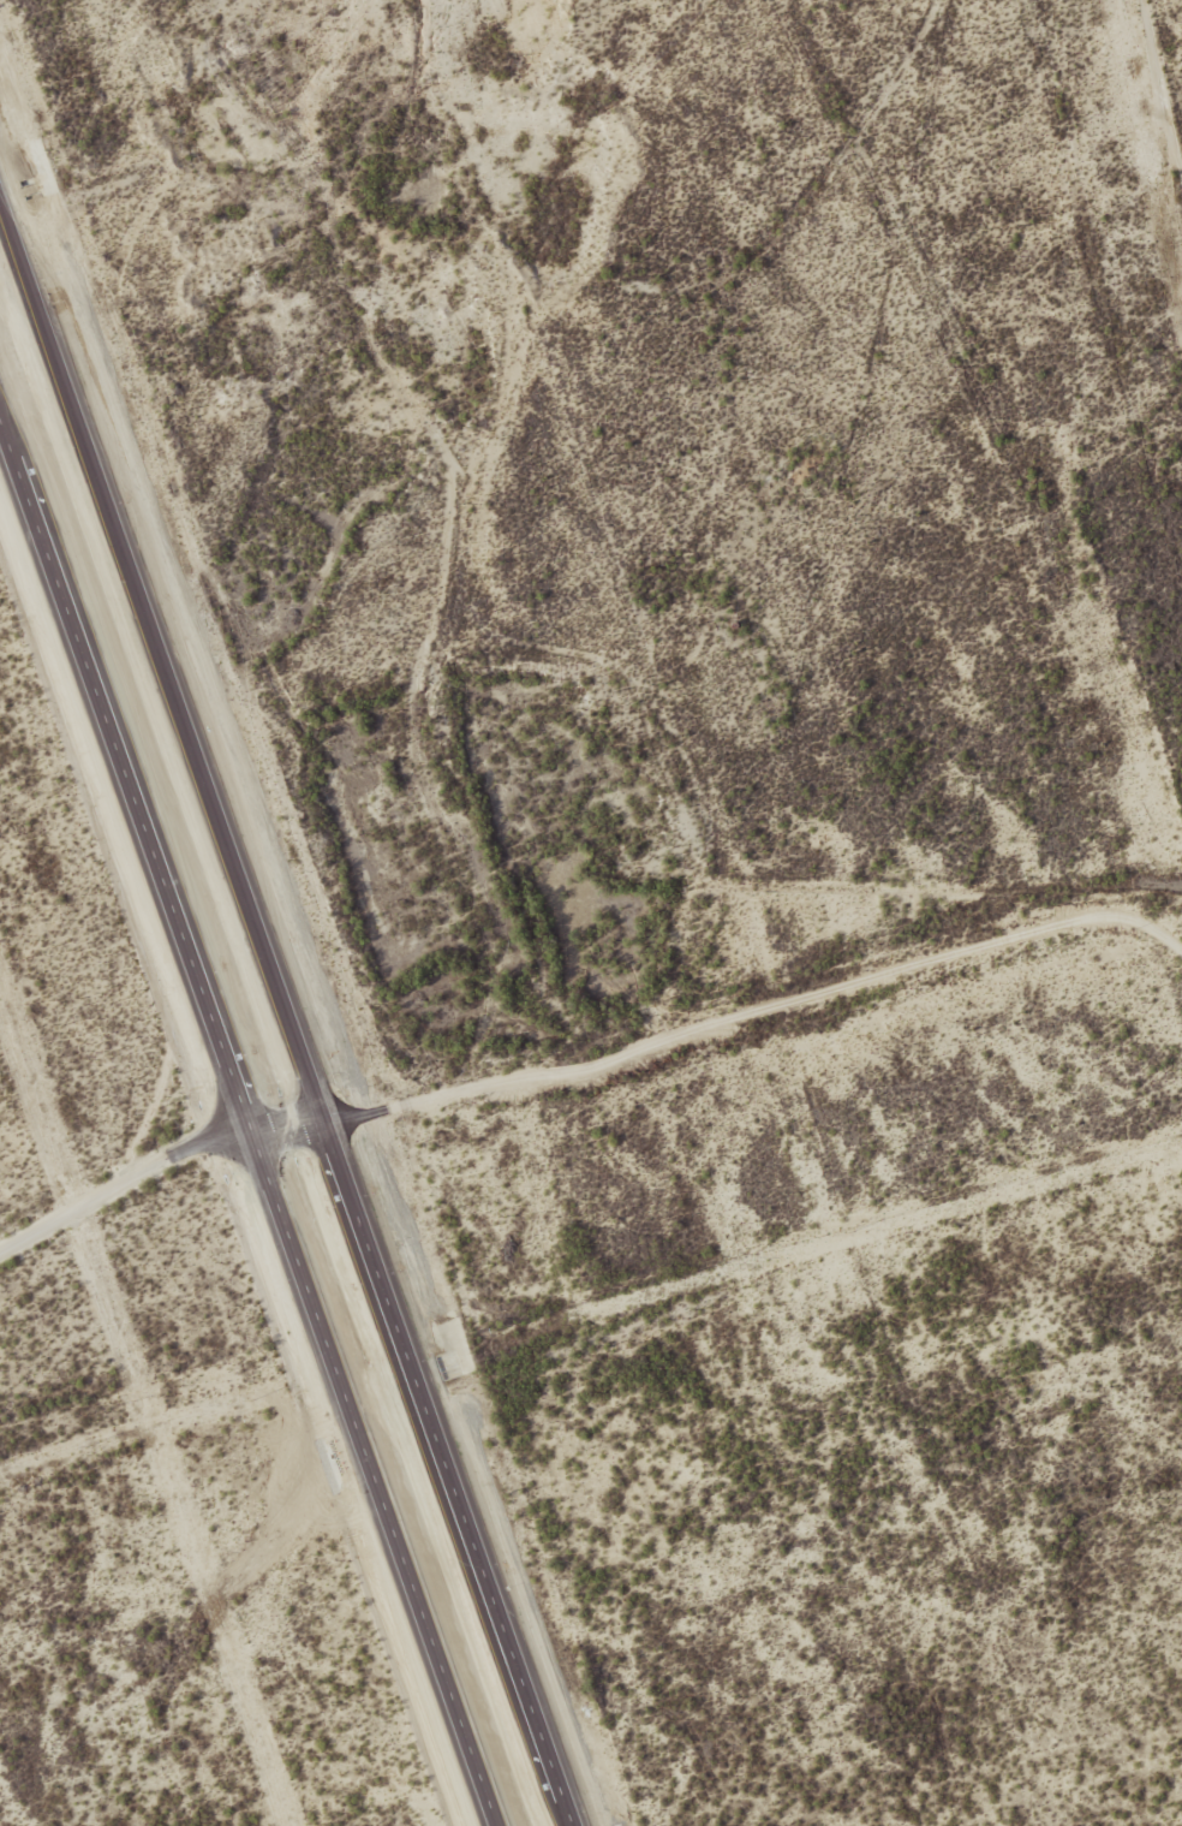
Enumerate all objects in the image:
road: (1094, 280)
road: (468, 500)
road: (644, 642)
road: (289, 1011)
road: (157, 1167)

